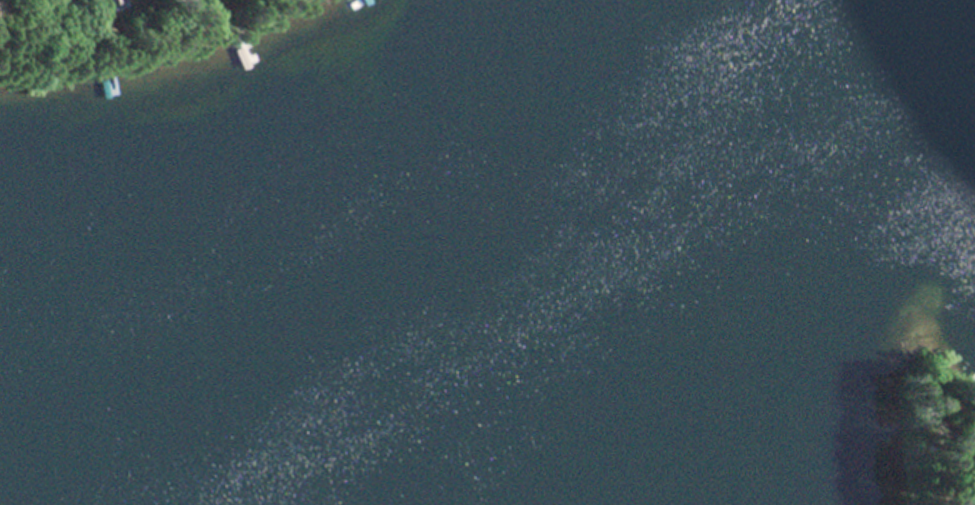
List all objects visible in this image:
building: (97, 4)
building: (971, 502)

